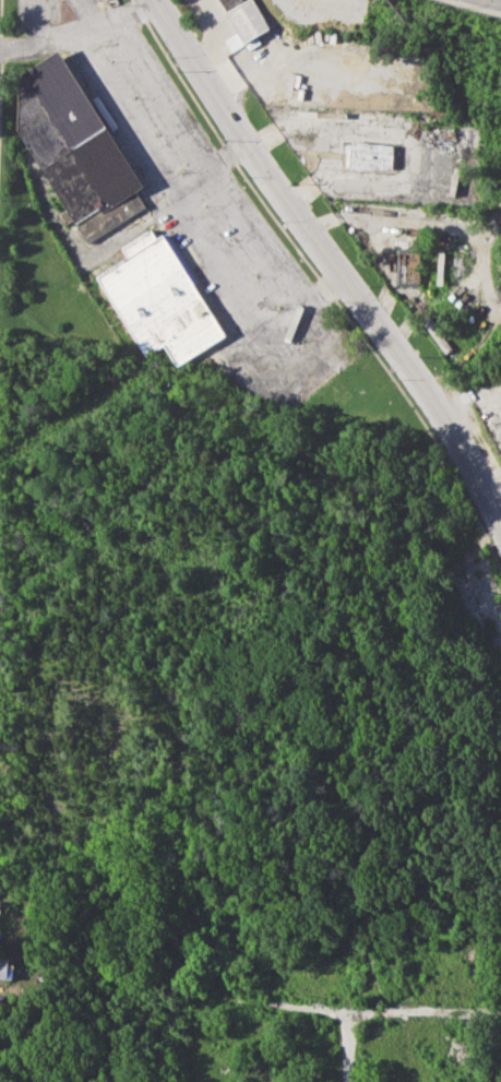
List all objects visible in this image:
road: (88, 12)
building: (247, 16)
road: (35, 21)
road: (76, 32)
street lamp: (171, 56)
street lamp: (108, 60)
street lamp: (132, 97)
street lamp: (157, 134)
street lamp: (224, 140)
building: (75, 147)
road: (228, 155)
building: (371, 155)
road: (208, 158)
street lamp: (180, 171)
street lamp: (203, 206)
street lamp: (282, 221)
road: (192, 223)
street lamp: (227, 239)
road: (332, 266)
building: (409, 266)
building: (440, 267)
street lamp: (254, 276)
building: (160, 298)
street lamp: (339, 301)
street lamp: (276, 308)
building: (433, 329)
street lamp: (300, 340)
street lamp: (337, 373)
street lamp: (396, 379)
street lamp: (301, 402)
building: (8, 967)
building: (303, 983)
road: (360, 1010)
road: (347, 1027)

